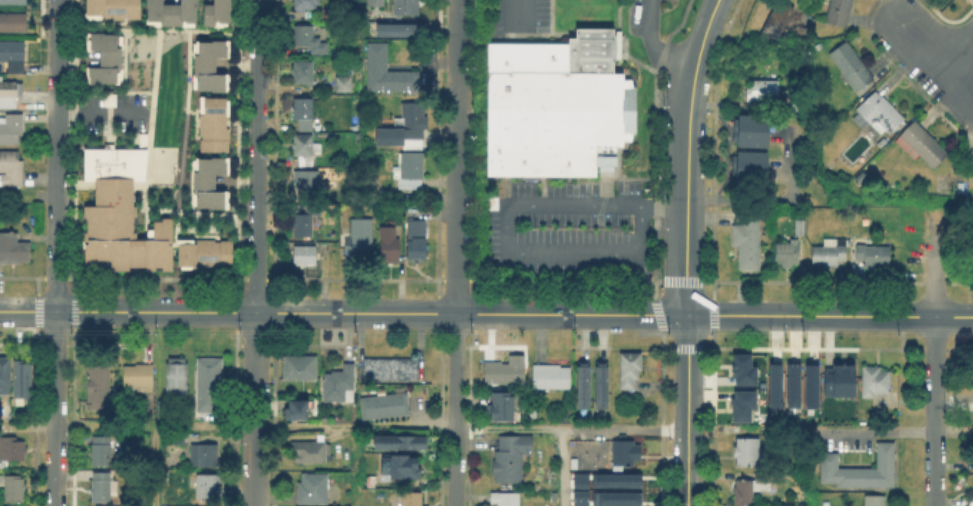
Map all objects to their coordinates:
building: (12, 1)
building: (374, 3)
building: (304, 4)
building: (111, 8)
building: (406, 8)
building: (169, 10)
road: (518, 11)
building: (214, 12)
building: (839, 12)
road: (58, 17)
building: (12, 21)
building: (782, 22)
building: (402, 28)
building: (307, 40)
road: (953, 40)
road: (654, 45)
building: (12, 56)
building: (103, 57)
road: (932, 58)
building: (208, 64)
building: (851, 66)
building: (386, 72)
building: (302, 73)
building: (343, 84)
building: (762, 92)
building: (9, 95)
road: (358, 98)
building: (561, 106)
building: (302, 109)
road: (101, 112)
building: (878, 114)
building: (212, 122)
building: (755, 128)
building: (10, 129)
building: (404, 129)
building: (922, 144)
building: (304, 146)
road: (686, 155)
road: (458, 157)
building: (303, 159)
building: (755, 160)
building: (10, 169)
building: (411, 169)
road: (56, 173)
building: (207, 181)
building: (305, 181)
building: (859, 181)
road: (408, 196)
road: (664, 207)
building: (119, 213)
building: (302, 220)
building: (799, 228)
building: (417, 234)
building: (748, 239)
building: (360, 241)
building: (389, 241)
building: (12, 249)
building: (201, 252)
road: (256, 253)
road: (509, 253)
building: (829, 253)
building: (786, 254)
building: (303, 256)
building: (873, 256)
road: (78, 312)
road: (206, 312)
road: (309, 313)
road: (661, 315)
road: (755, 315)
road: (498, 316)
traffic signals: (686, 316)
road: (842, 316)
road: (897, 316)
road: (954, 317)
road: (935, 356)
building: (299, 368)
building: (741, 368)
building: (390, 370)
building: (503, 370)
building: (629, 370)
building: (5, 378)
building: (22, 378)
building: (549, 378)
building: (837, 378)
building: (136, 379)
building: (176, 379)
building: (874, 382)
building: (584, 383)
building: (773, 383)
building: (809, 383)
building: (603, 384)
building: (791, 384)
building: (98, 386)
building: (208, 386)
building: (339, 386)
building: (740, 404)
building: (503, 405)
building: (385, 407)
road: (55, 408)
building: (295, 408)
road: (456, 410)
building: (161, 411)
road: (686, 411)
building: (533, 414)
road: (410, 425)
road: (877, 431)
road: (953, 431)
building: (186, 438)
building: (401, 439)
building: (12, 450)
building: (100, 453)
building: (309, 453)
building: (745, 453)
building: (625, 454)
building: (510, 457)
building: (209, 459)
road: (355, 465)
building: (400, 465)
road: (154, 466)
road: (562, 467)
building: (861, 471)
building: (615, 479)
building: (577, 480)
building: (104, 486)
building: (12, 487)
building: (312, 489)
building: (750, 489)
building: (205, 490)
building: (578, 496)
building: (614, 497)
building: (505, 499)
building: (408, 500)
building: (874, 501)

